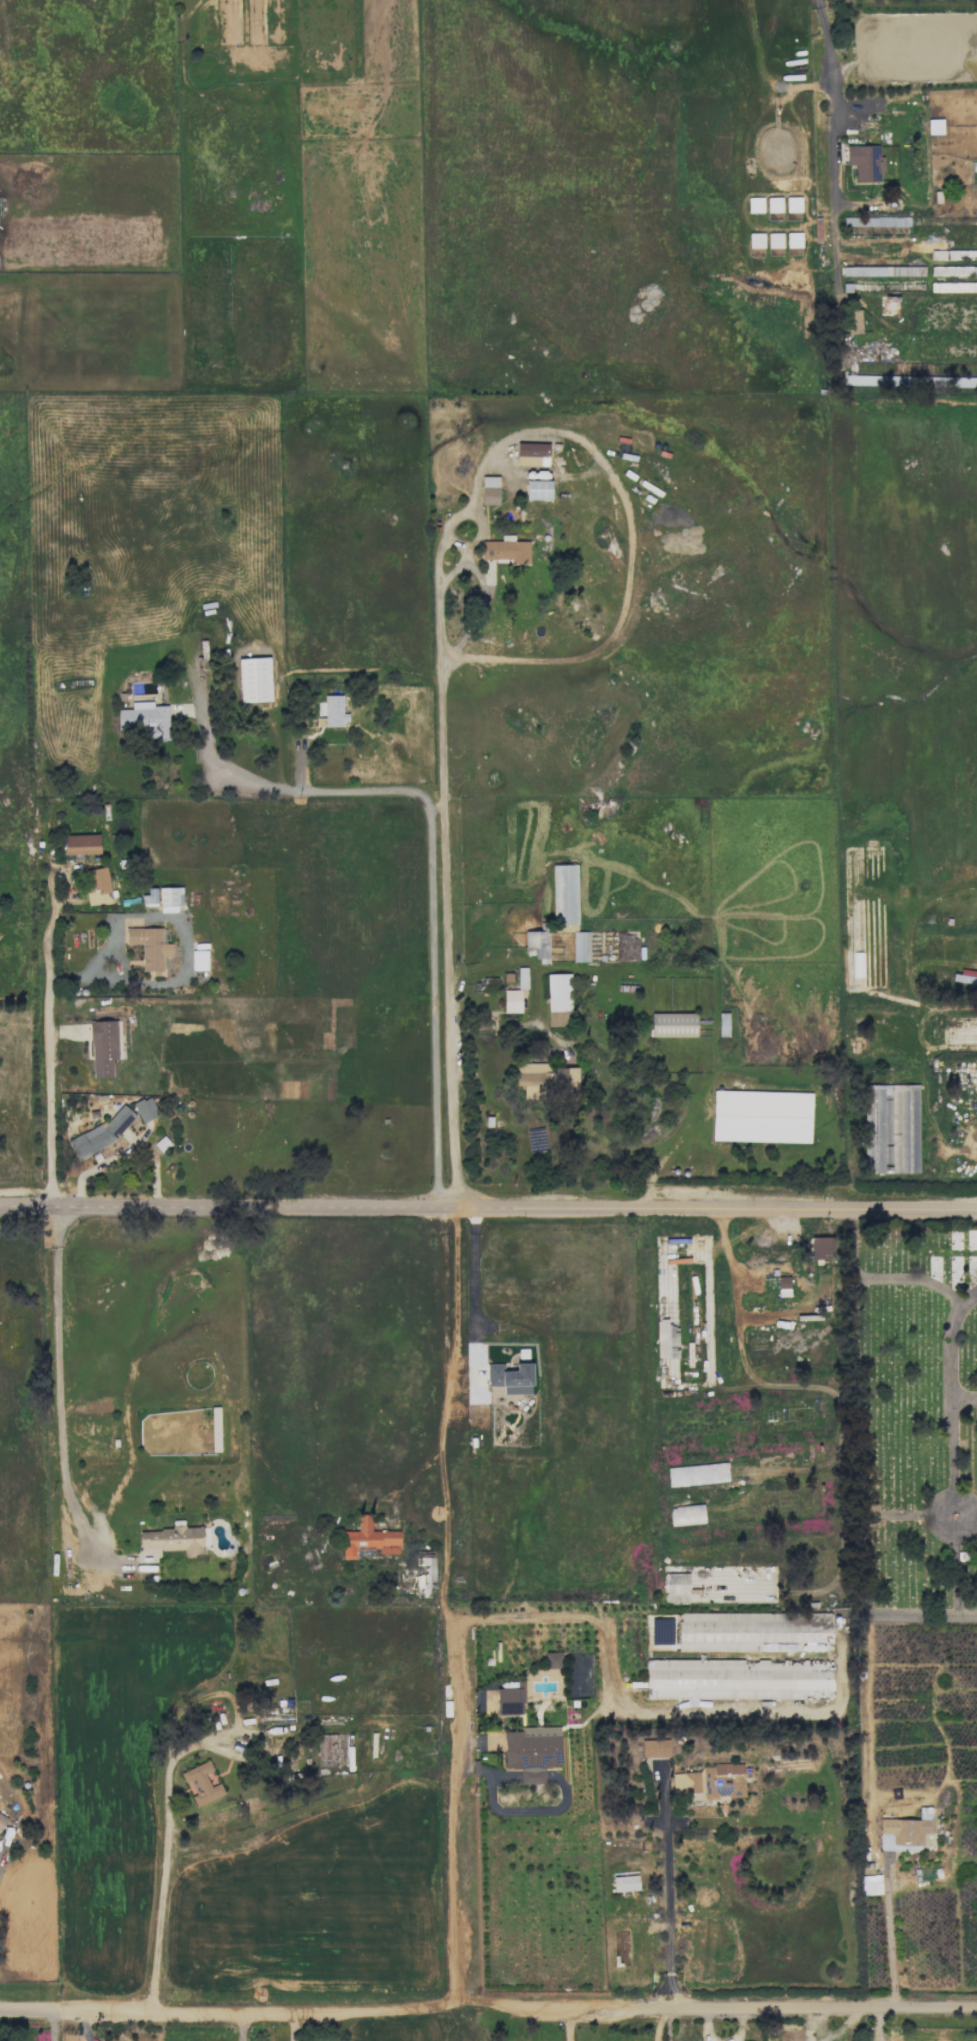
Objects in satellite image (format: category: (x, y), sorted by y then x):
building: (934, 126)
road: (835, 142)
building: (865, 162)
building: (754, 204)
building: (773, 204)
building: (792, 204)
building: (793, 239)
building: (755, 240)
building: (774, 240)
building: (953, 255)
building: (953, 270)
building: (882, 271)
building: (953, 287)
building: (854, 322)
building: (532, 453)
building: (538, 489)
building: (490, 490)
building: (506, 550)
road: (439, 578)
building: (254, 679)
building: (332, 712)
building: (145, 719)
building: (81, 844)
road: (432, 848)
building: (97, 886)
building: (564, 894)
building: (149, 897)
building: (538, 944)
building: (149, 946)
building: (580, 946)
building: (198, 960)
building: (522, 977)
building: (558, 999)
building: (512, 1001)
road: (514, 1024)
building: (672, 1024)
building: (723, 1024)
building: (102, 1047)
road: (51, 1065)
building: (531, 1074)
building: (564, 1079)
building: (145, 1109)
building: (761, 1116)
building: (891, 1128)
building: (536, 1139)
road: (488, 1210)
building: (820, 1247)
building: (783, 1286)
road: (966, 1293)
building: (666, 1339)
building: (510, 1378)
road: (950, 1379)
road: (55, 1388)
road: (964, 1398)
road: (444, 1418)
park: (911, 1420)
building: (696, 1474)
road: (858, 1488)
building: (686, 1514)
road: (917, 1515)
building: (173, 1538)
building: (369, 1539)
building: (424, 1571)
building: (675, 1588)
building: (751, 1630)
building: (551, 1660)
building: (741, 1678)
building: (508, 1701)
road: (648, 1711)
building: (654, 1748)
building: (326, 1750)
building: (532, 1751)
building: (713, 1780)
building: (201, 1783)
road: (456, 1815)
building: (2, 1821)
building: (905, 1831)
road: (878, 1851)
road: (162, 1863)
building: (625, 1881)
building: (871, 1884)
road: (668, 1895)
road: (488, 2009)
road: (53, 2025)
road: (242, 2025)
road: (566, 2025)
road: (653, 2025)
road: (873, 2025)

